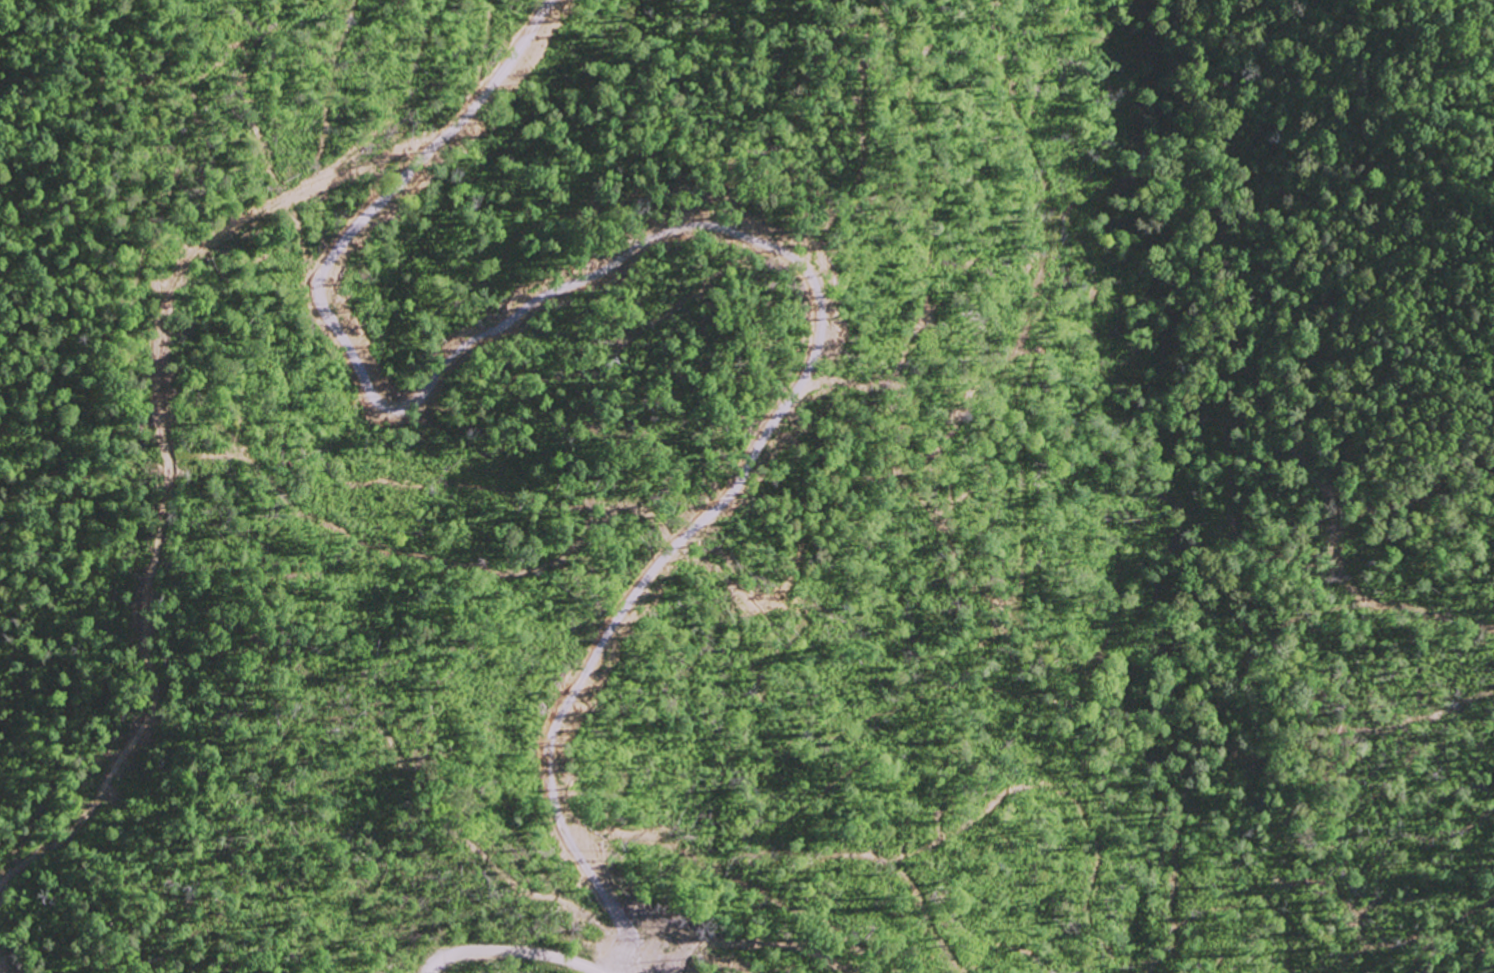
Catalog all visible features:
road: (157, 369)
road: (514, 951)
road: (0, 972)

